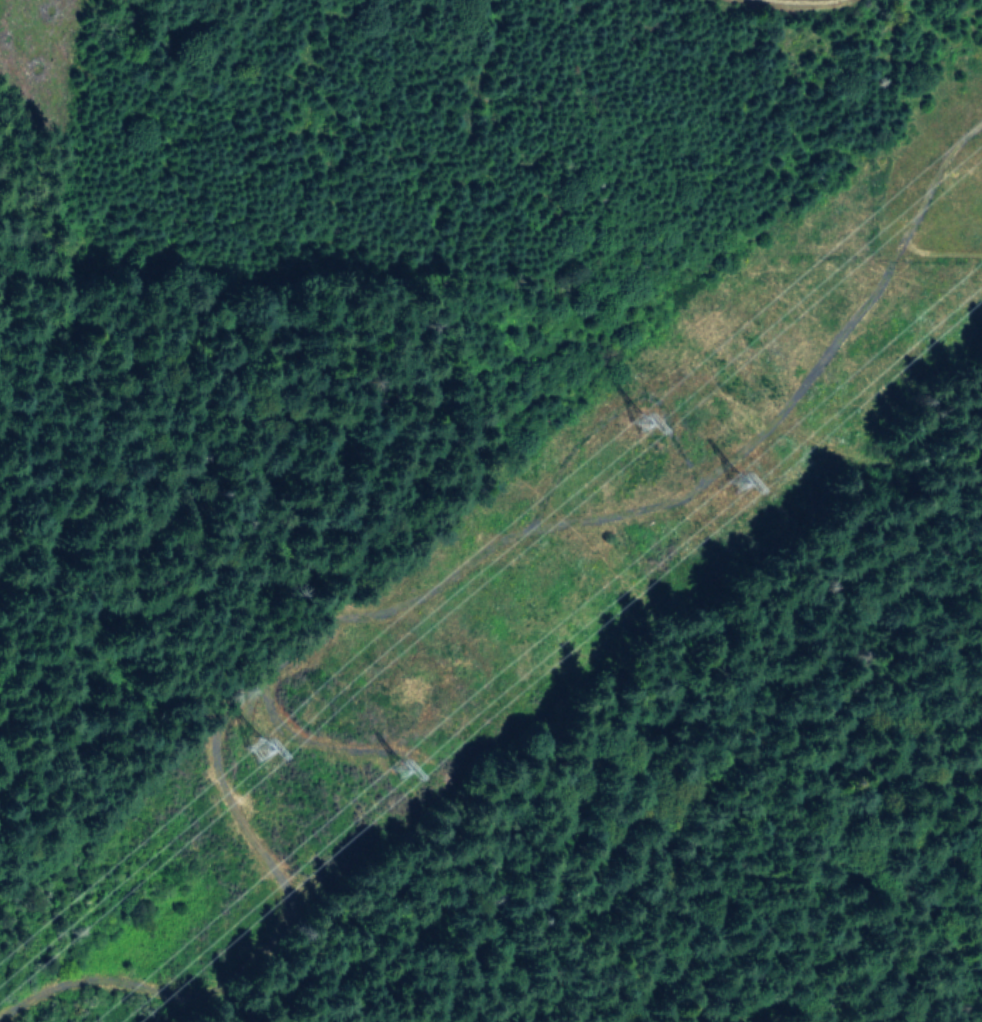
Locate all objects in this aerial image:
crop: (837, 3)
power tower: (643, 417)
power tower: (737, 483)
power tower: (257, 749)
power tower: (401, 762)

